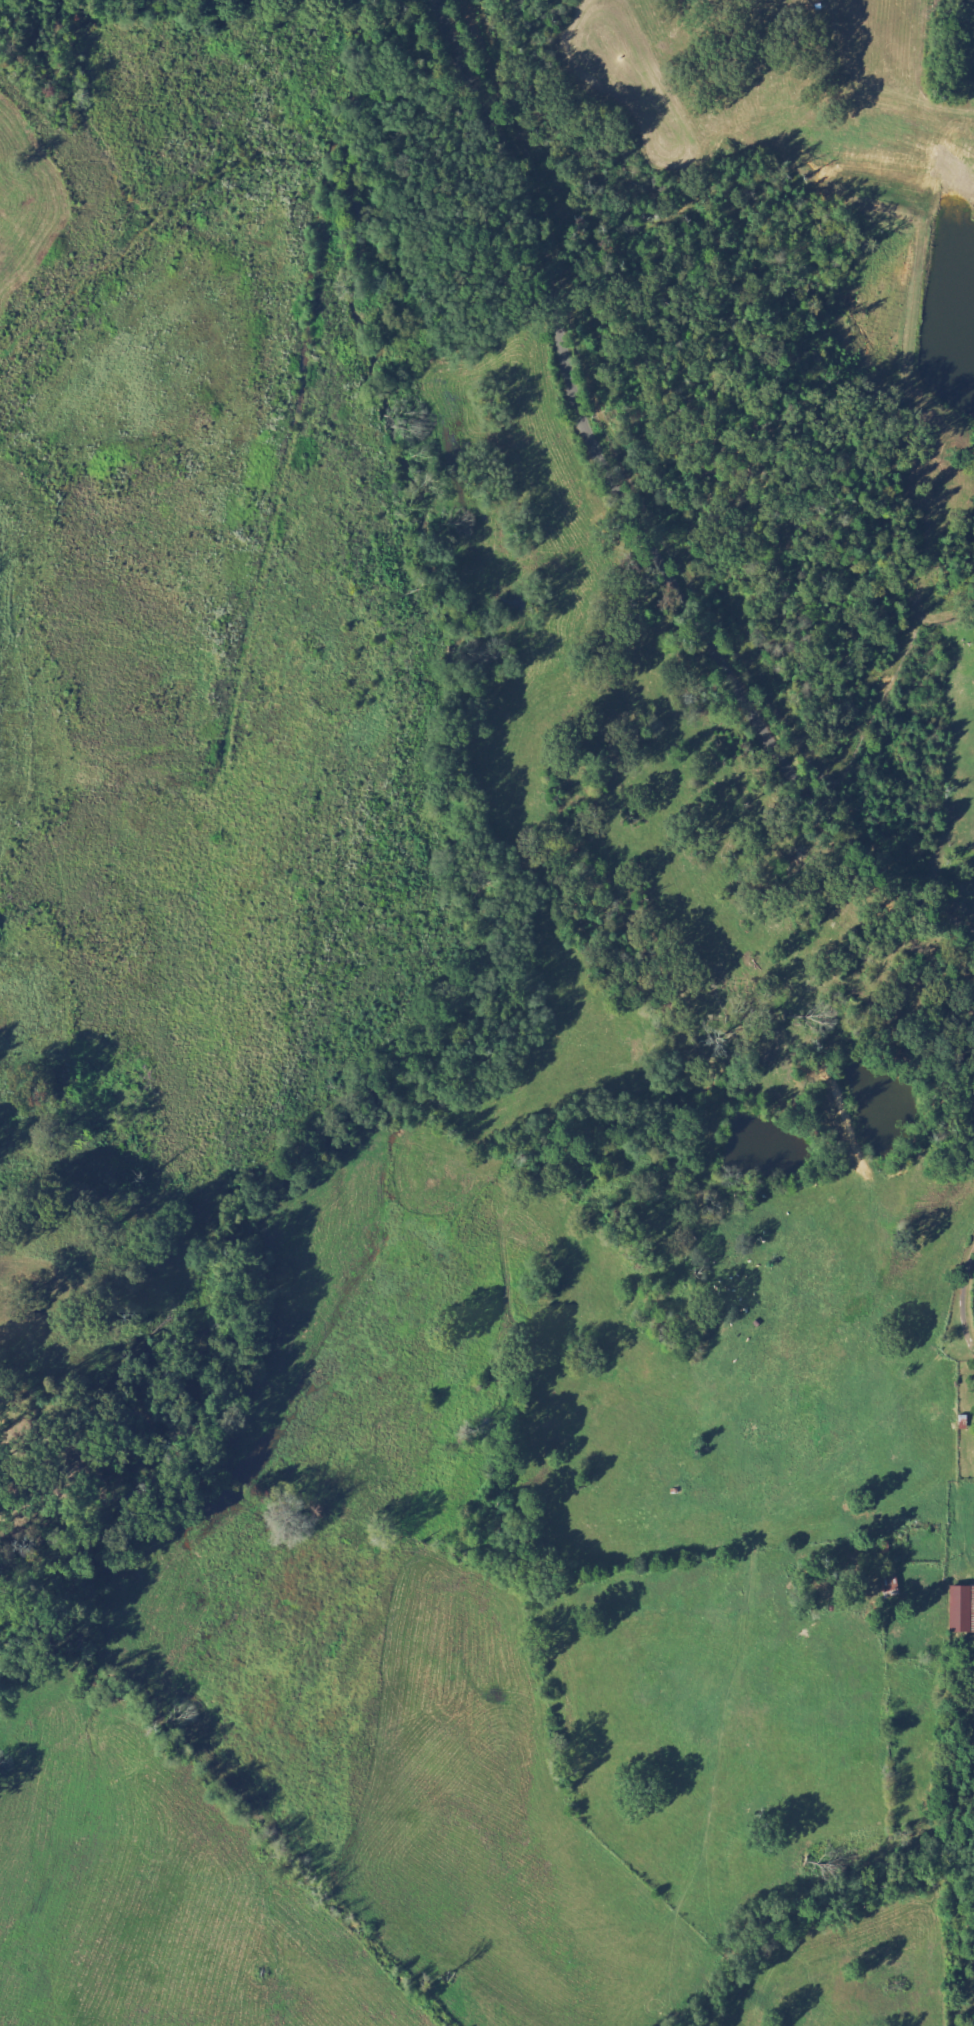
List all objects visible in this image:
road: (630, 510)
building: (960, 1606)

